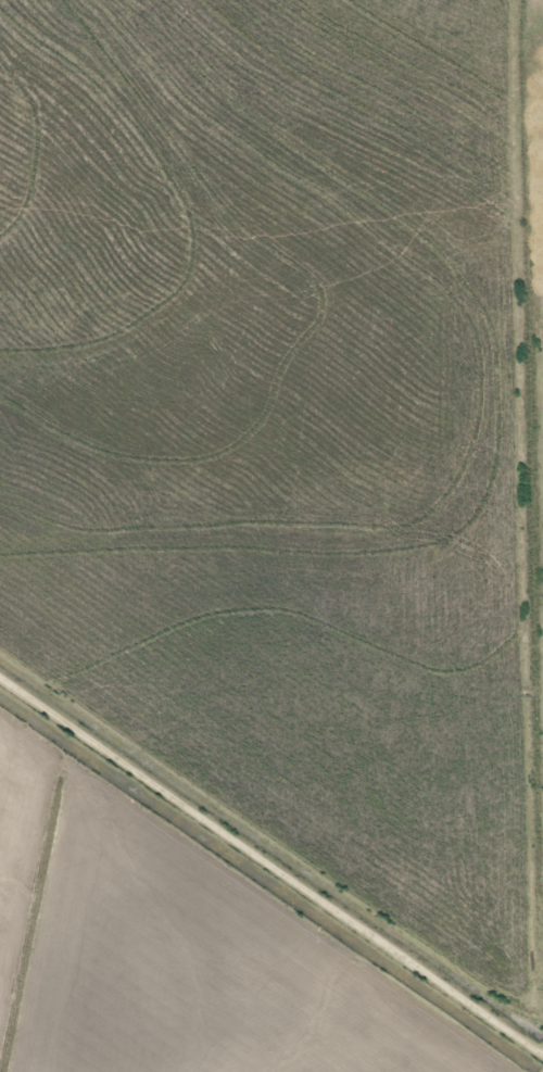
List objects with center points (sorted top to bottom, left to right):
road: (253, 896)

